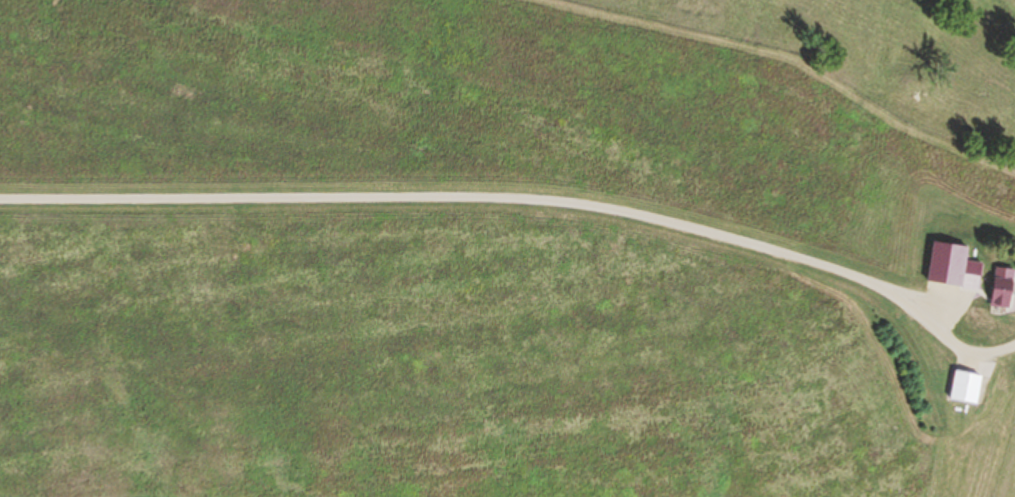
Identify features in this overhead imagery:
road: (435, 199)
building: (956, 260)
building: (1003, 288)
building: (965, 389)

